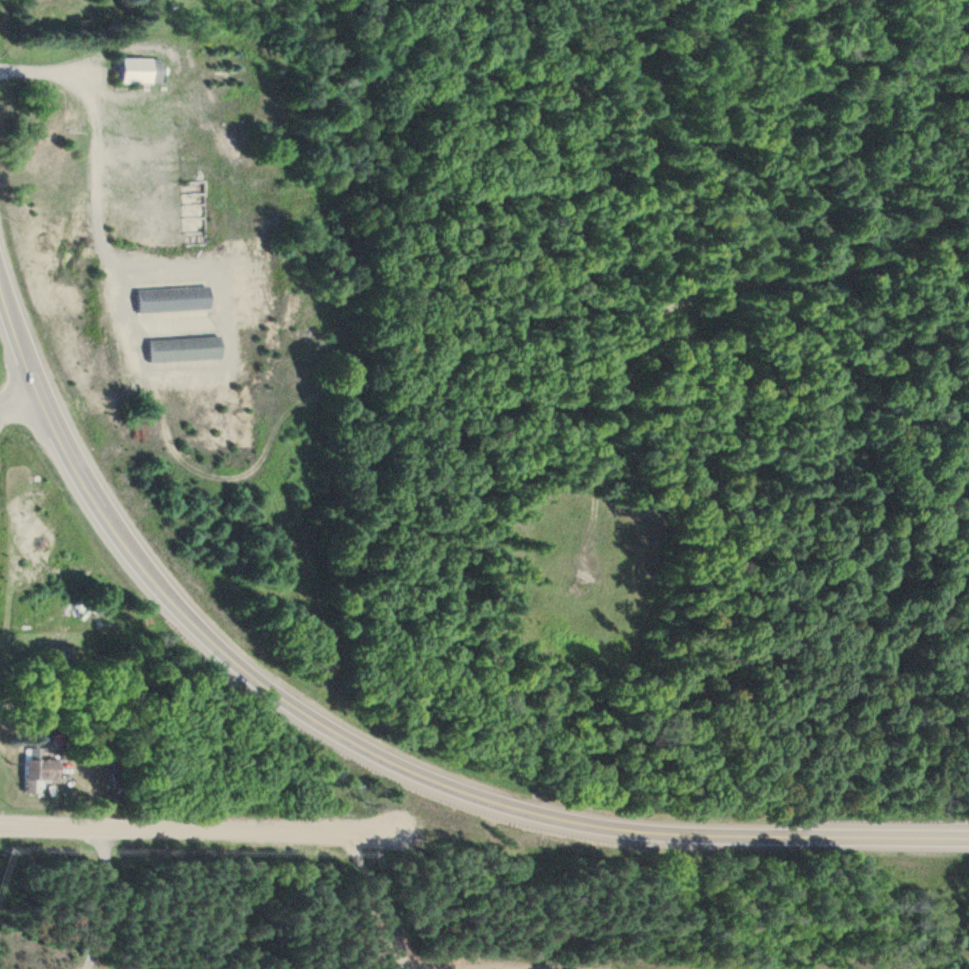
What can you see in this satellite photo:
building: (136, 72)
building: (193, 213)
building: (170, 300)
building: (181, 350)
road: (18, 401)
road: (368, 747)
building: (42, 770)
road: (201, 831)
road: (104, 901)
road: (401, 943)
road: (89, 963)

